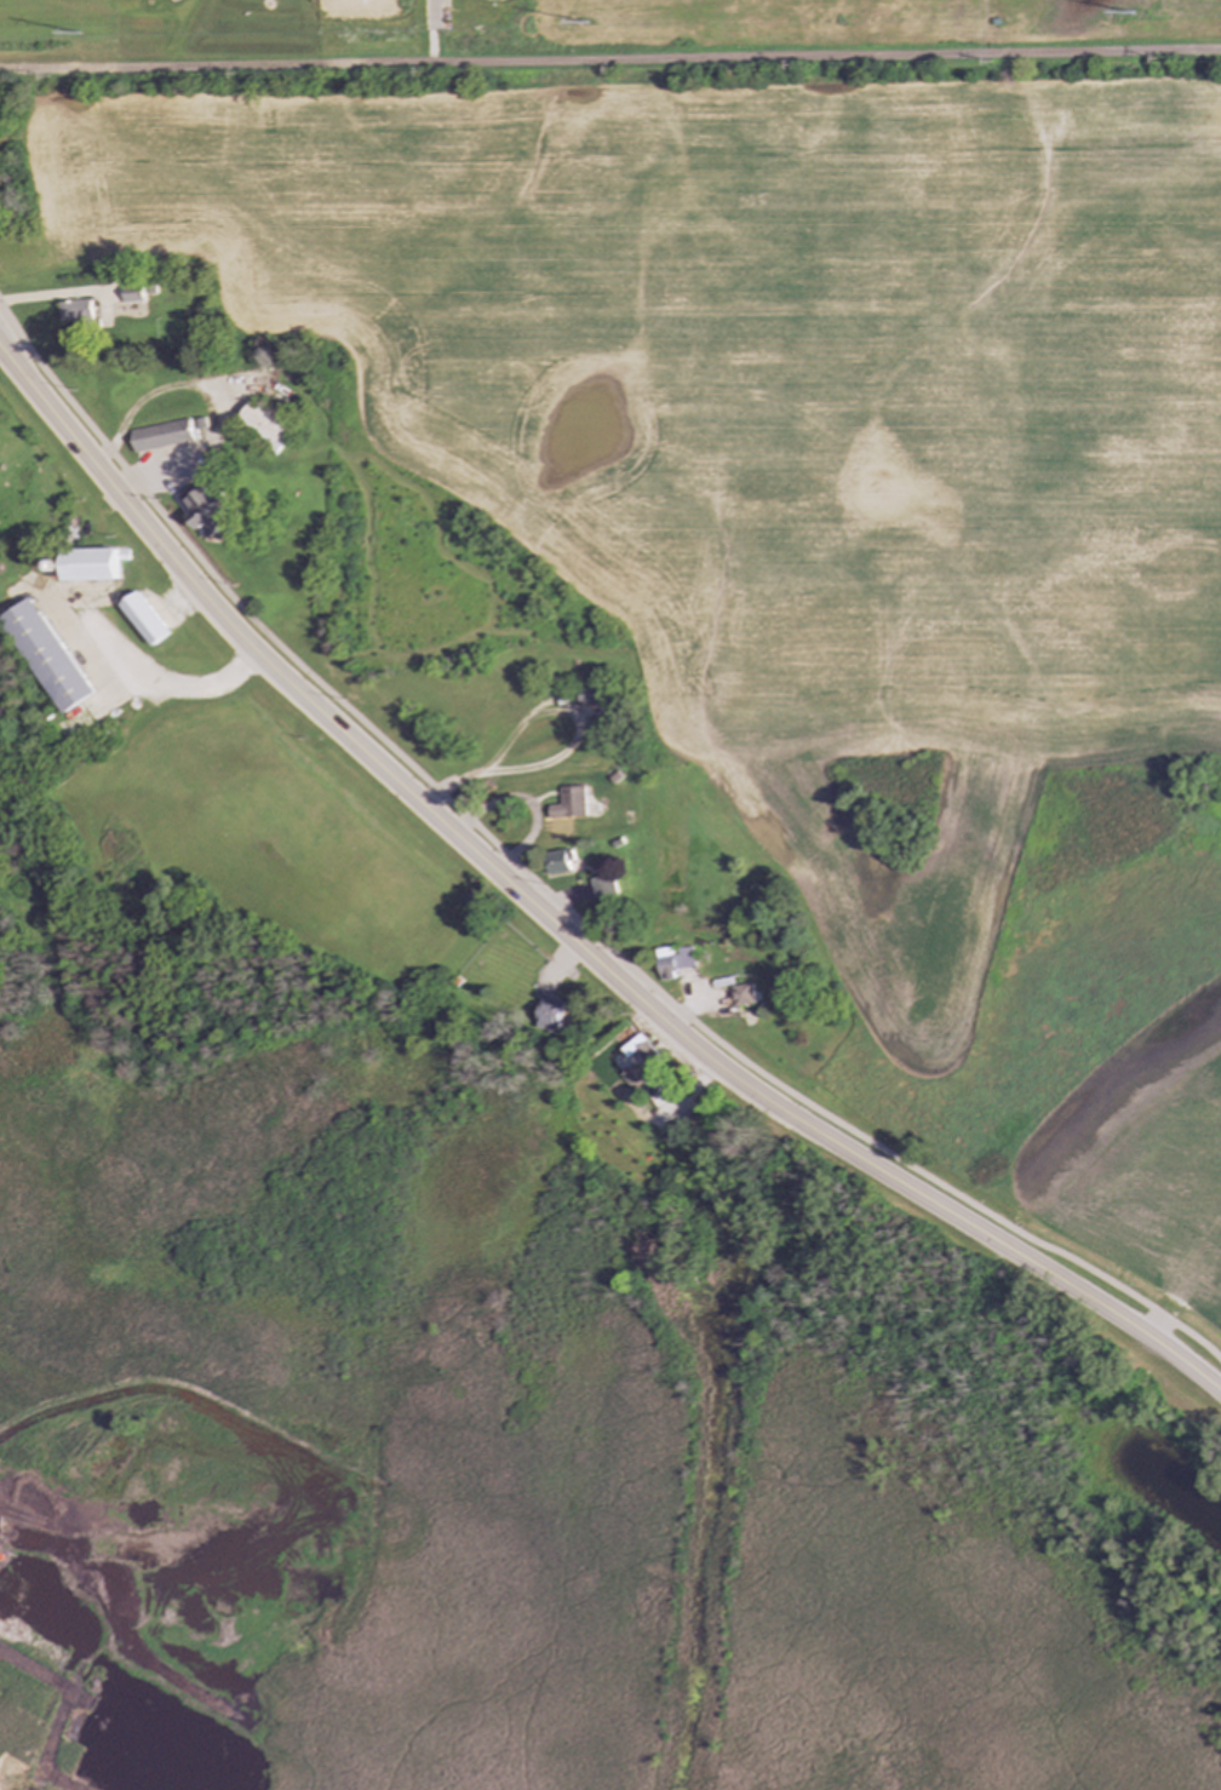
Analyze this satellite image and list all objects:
road: (435, 12)
power tower: (1113, 13)
power tower: (571, 24)
power tower: (63, 36)
road: (429, 42)
road: (609, 59)
building: (133, 292)
building: (79, 314)
building: (264, 424)
crop: (776, 426)
building: (160, 435)
building: (206, 510)
building: (92, 564)
building: (145, 619)
building: (48, 656)
road: (120, 662)
building: (592, 695)
road: (568, 750)
building: (571, 803)
building: (558, 862)
building: (604, 887)
road: (554, 900)
road: (562, 929)
building: (673, 962)
building: (743, 994)
building: (550, 1014)
building: (640, 1049)
building: (634, 1075)
crop: (1143, 1165)

